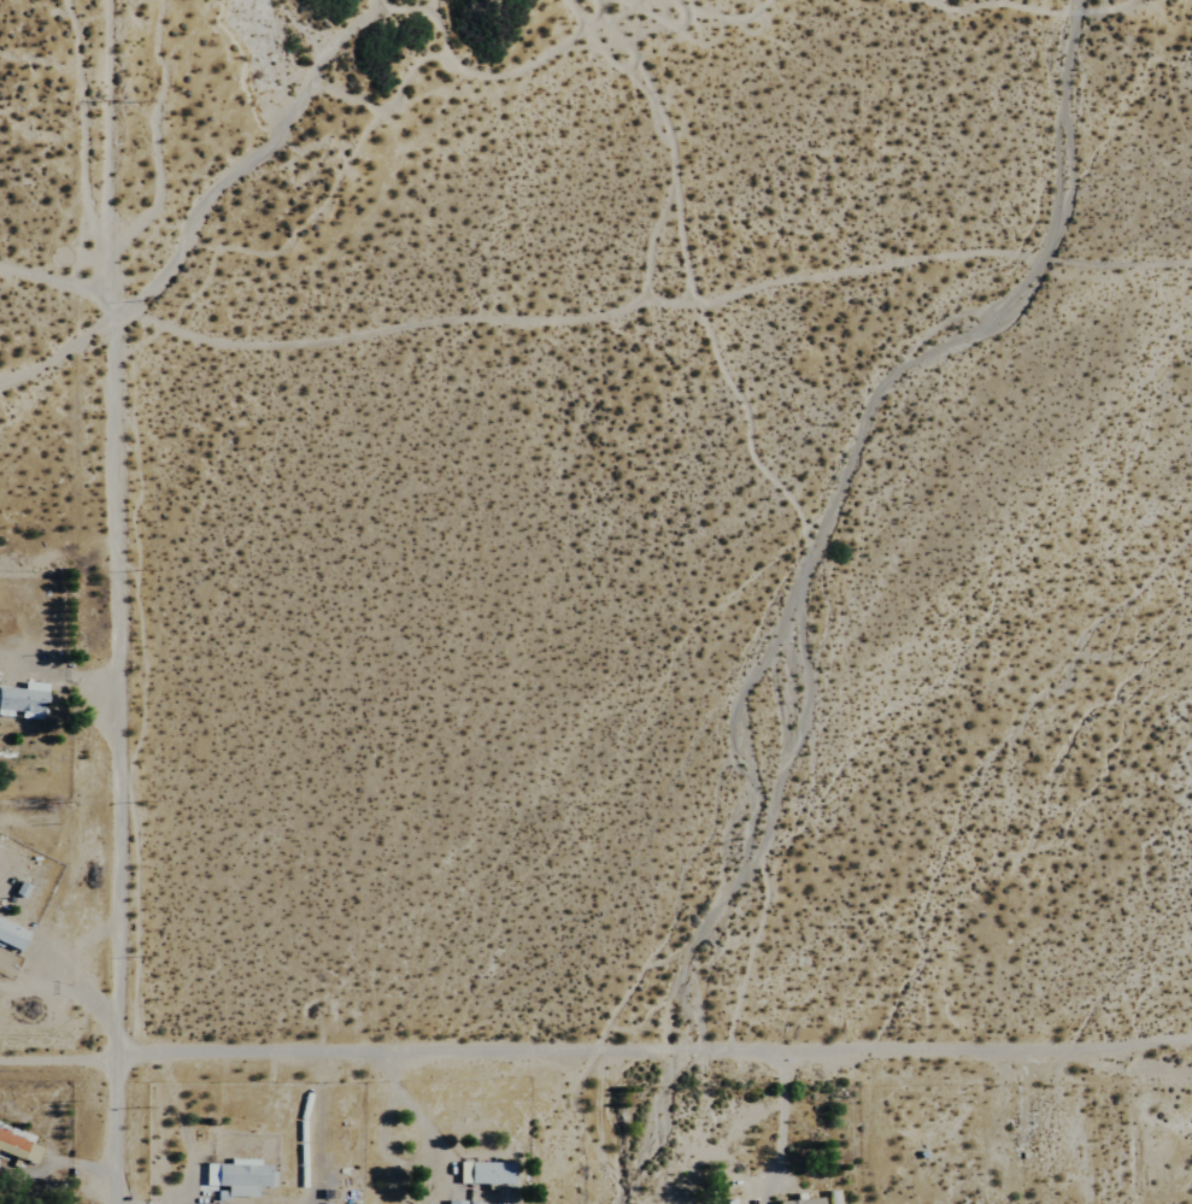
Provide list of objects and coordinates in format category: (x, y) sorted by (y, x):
road: (99, 119)
road: (108, 721)
road: (651, 1057)
road: (55, 1058)

